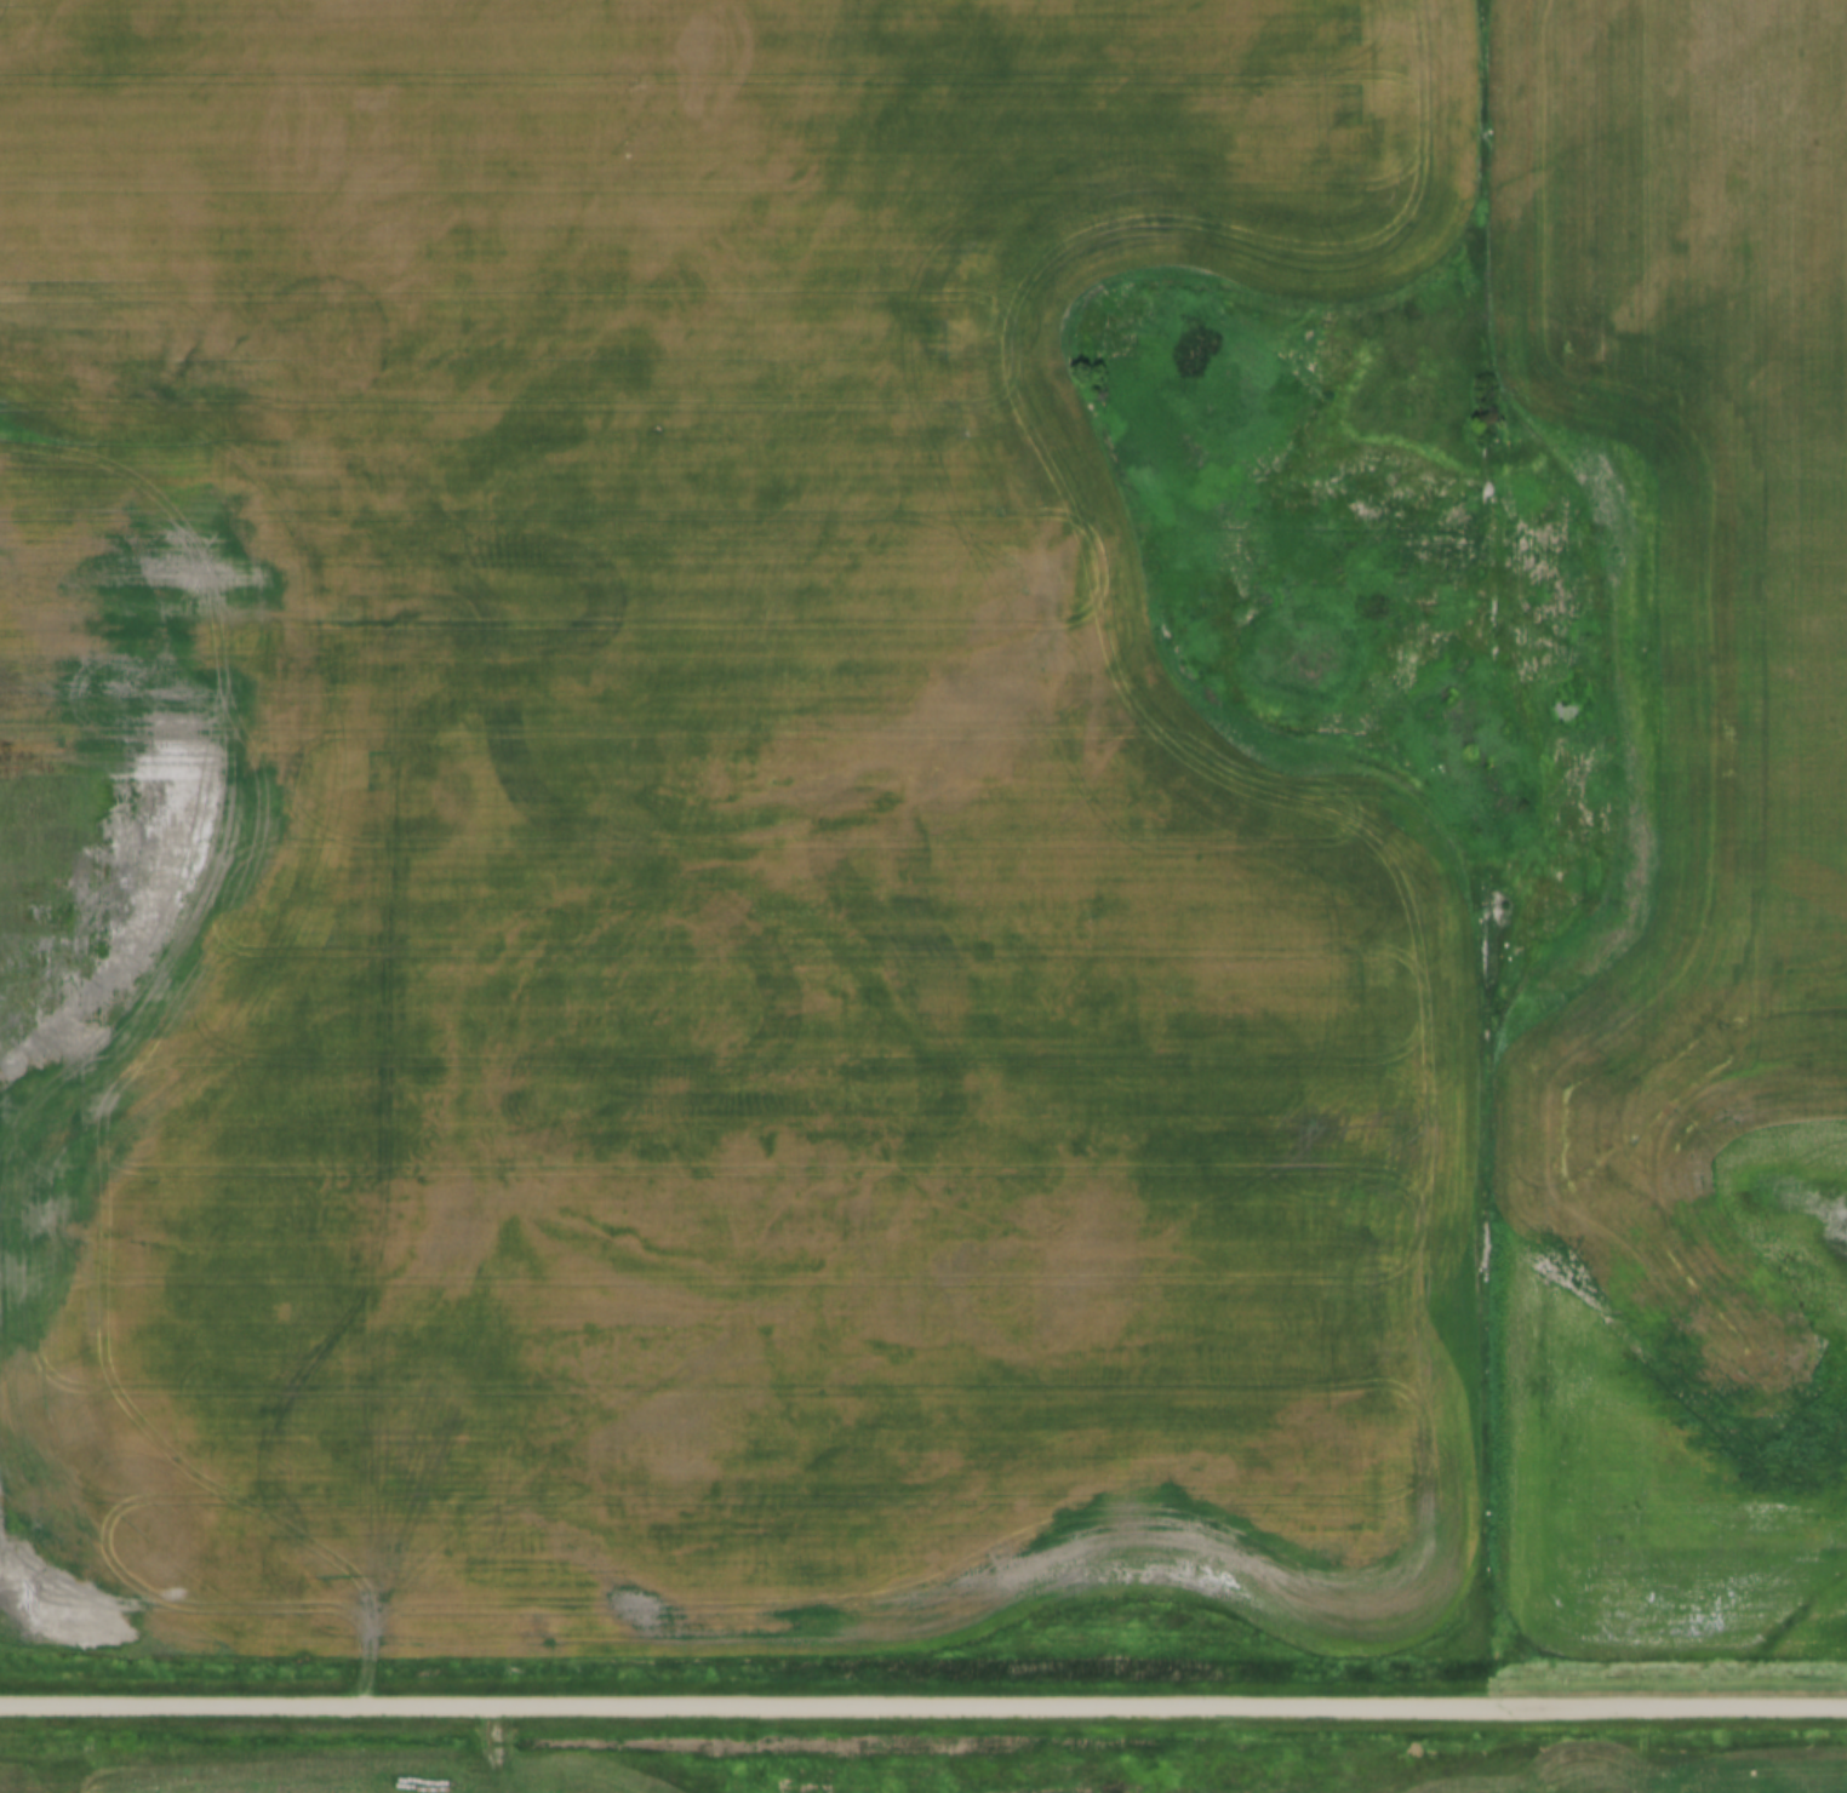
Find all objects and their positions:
road: (923, 1708)

